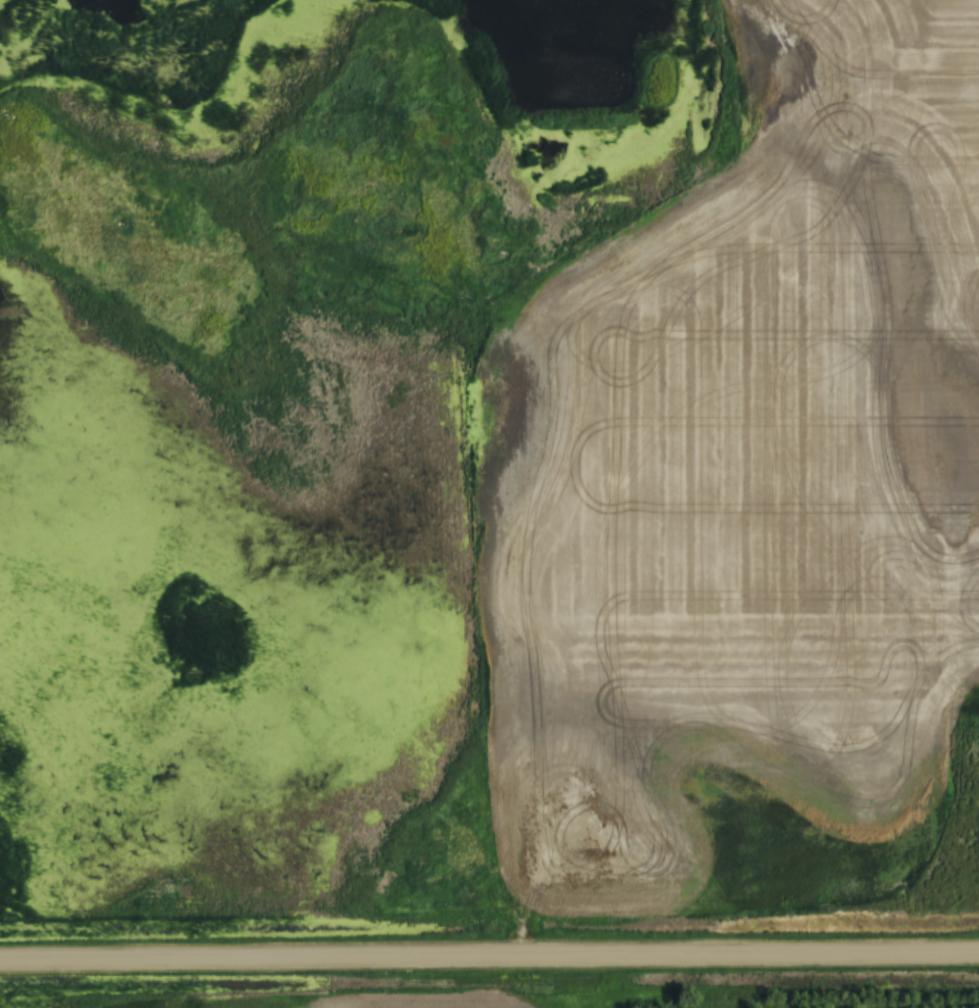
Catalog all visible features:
road: (489, 958)

